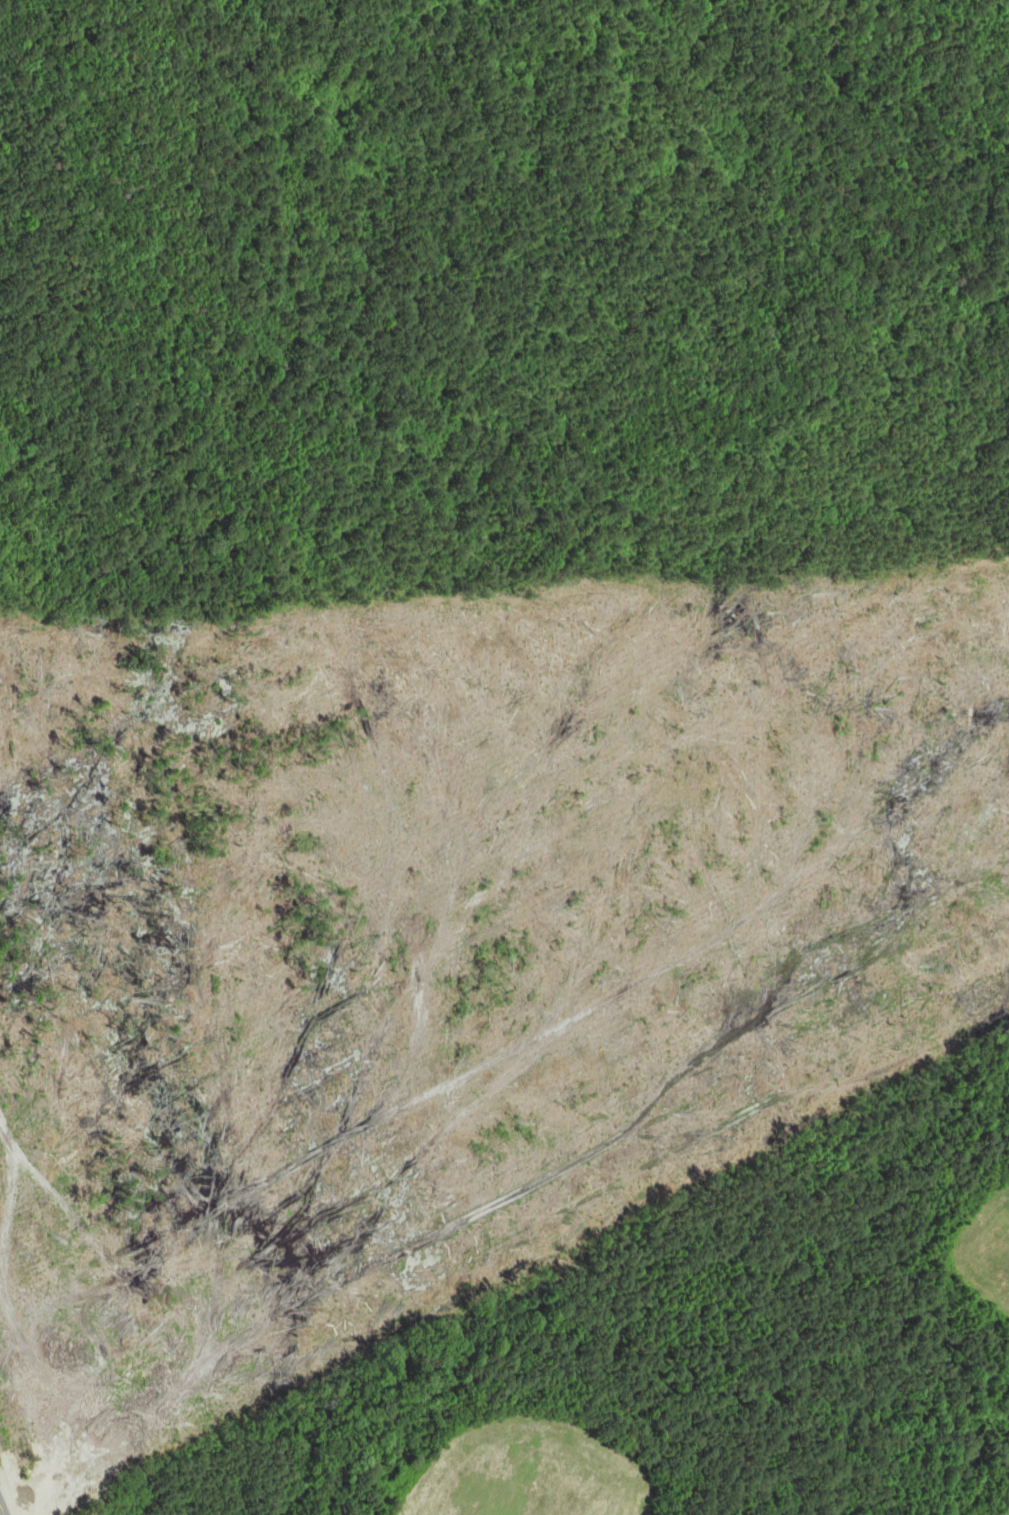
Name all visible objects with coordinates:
road: (1, 1511)

